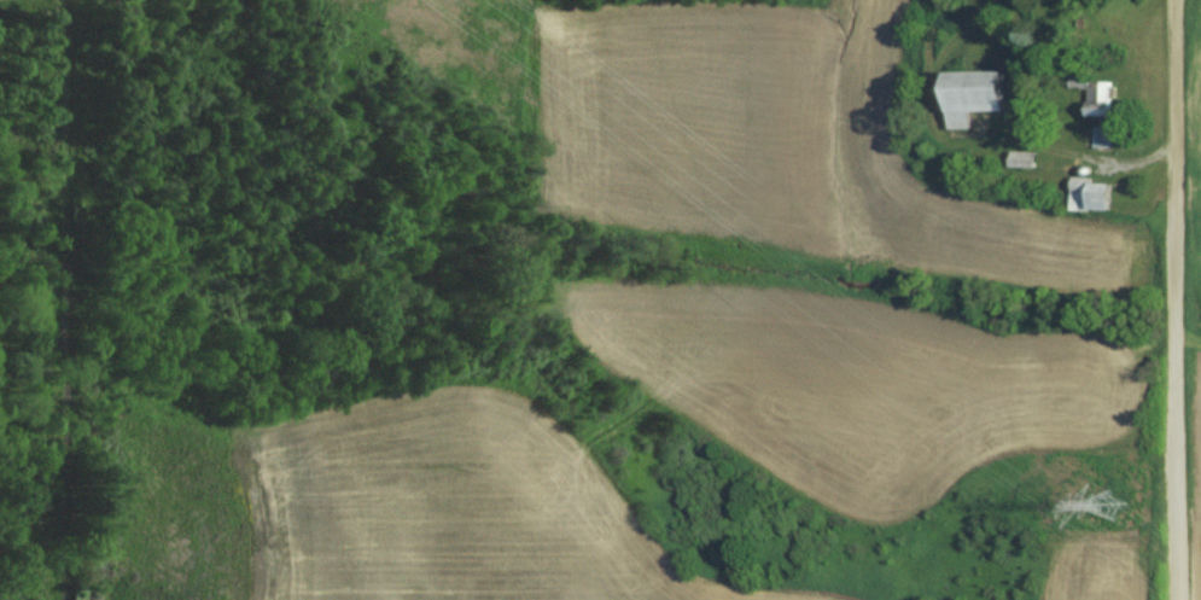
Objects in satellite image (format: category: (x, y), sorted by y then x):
building: (1098, 95)
building: (979, 97)
building: (1103, 139)
building: (1028, 163)
building: (1094, 196)
road: (1180, 299)
power tower: (1115, 511)

